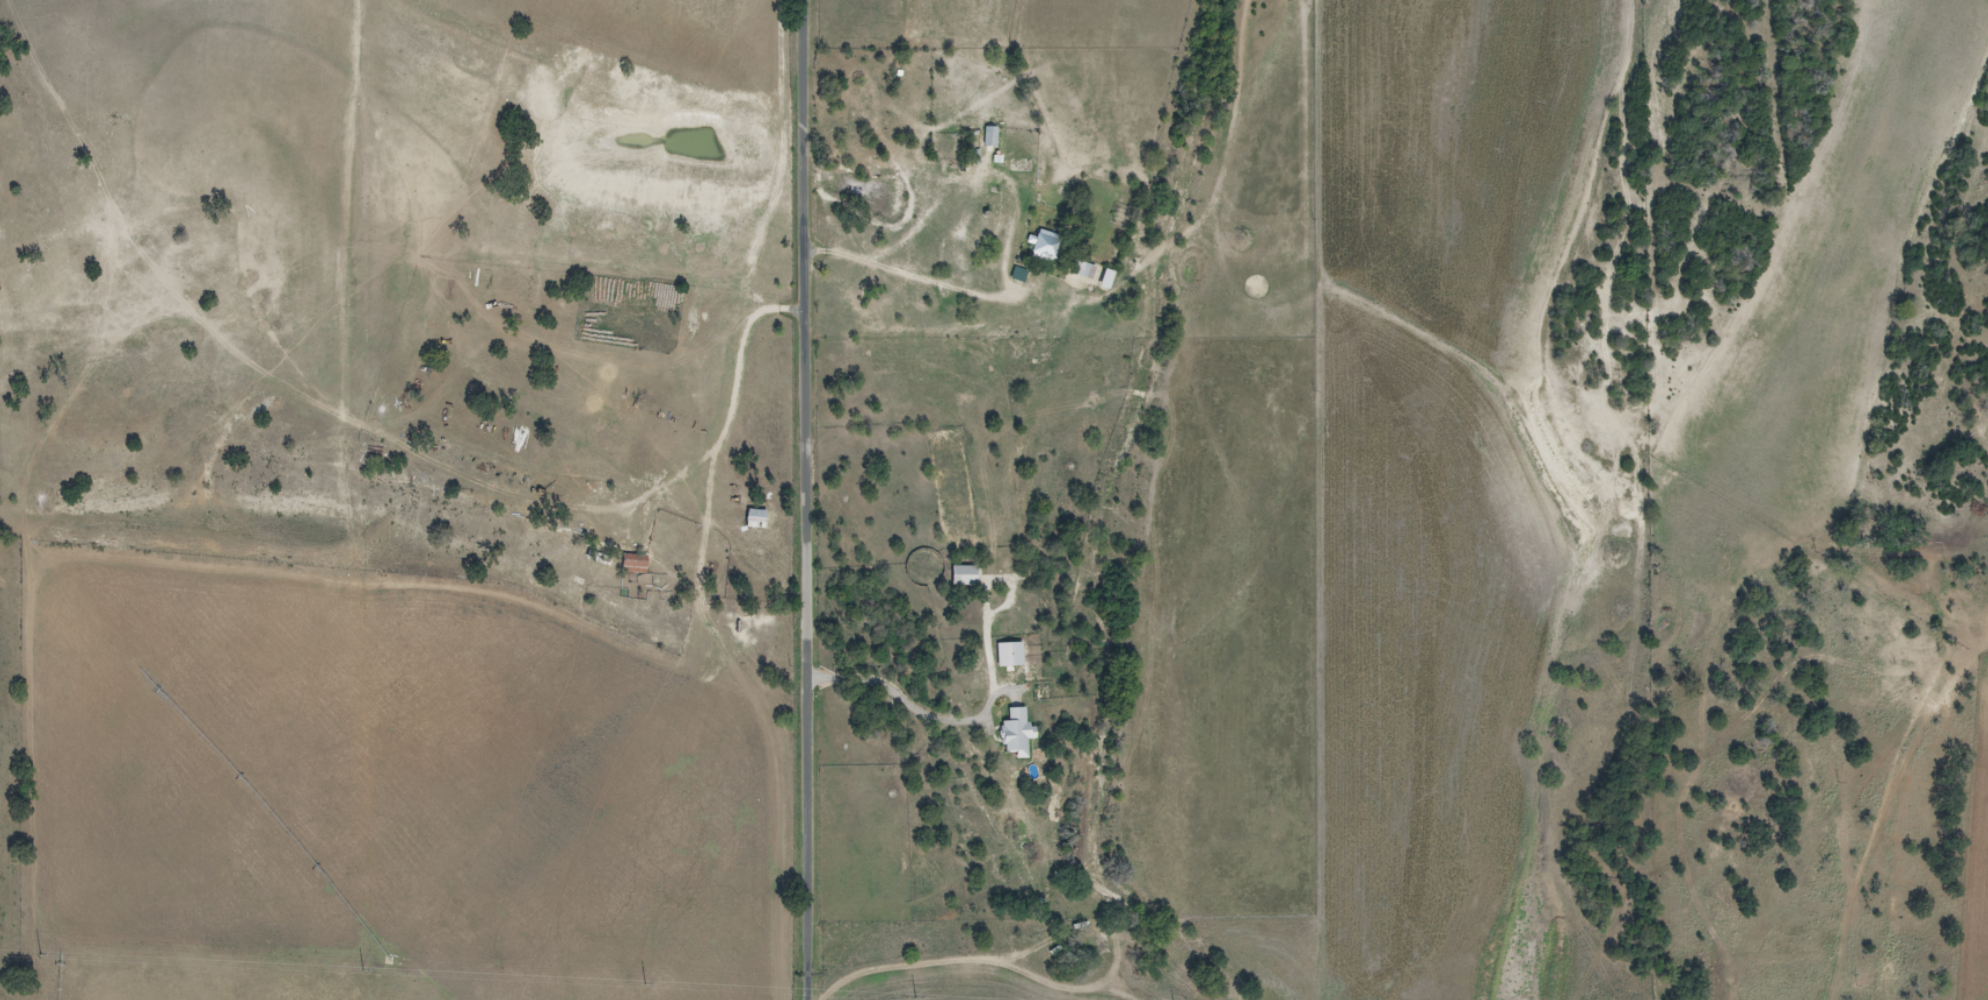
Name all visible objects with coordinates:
building: (989, 136)
building: (1045, 245)
road: (922, 267)
building: (1083, 269)
road: (807, 499)
building: (755, 519)
building: (635, 563)
building: (966, 575)
road: (1935, 700)
road: (931, 719)
building: (1018, 731)
road: (1726, 736)
power tower: (40, 953)
road: (966, 960)
power tower: (363, 970)
power tower: (645, 984)
power tower: (916, 997)

